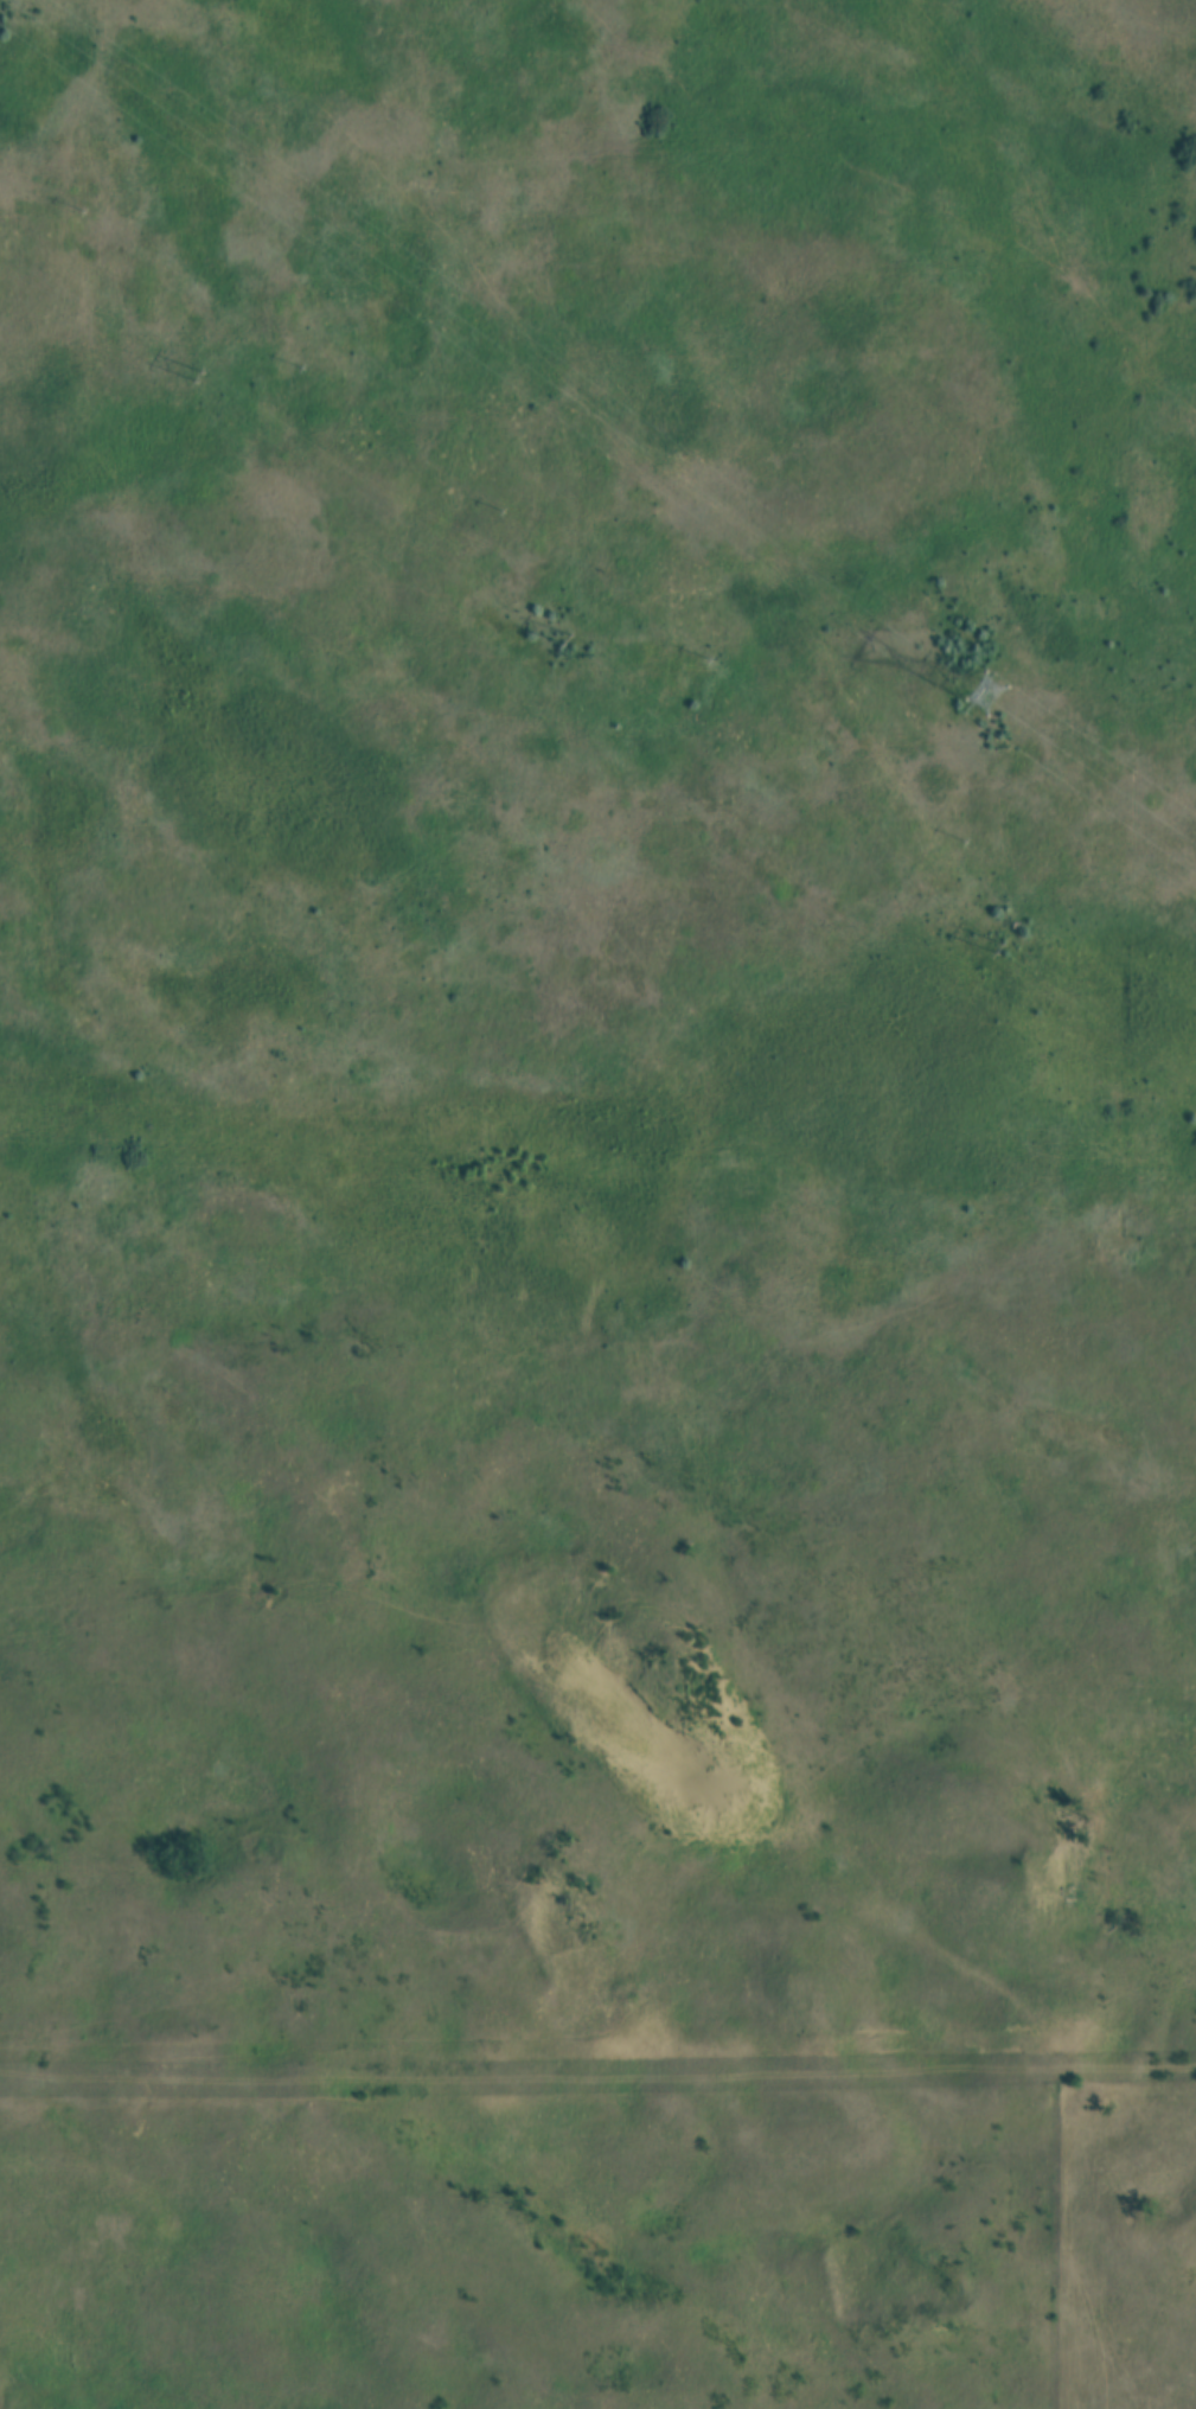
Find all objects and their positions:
power tower: (976, 697)

